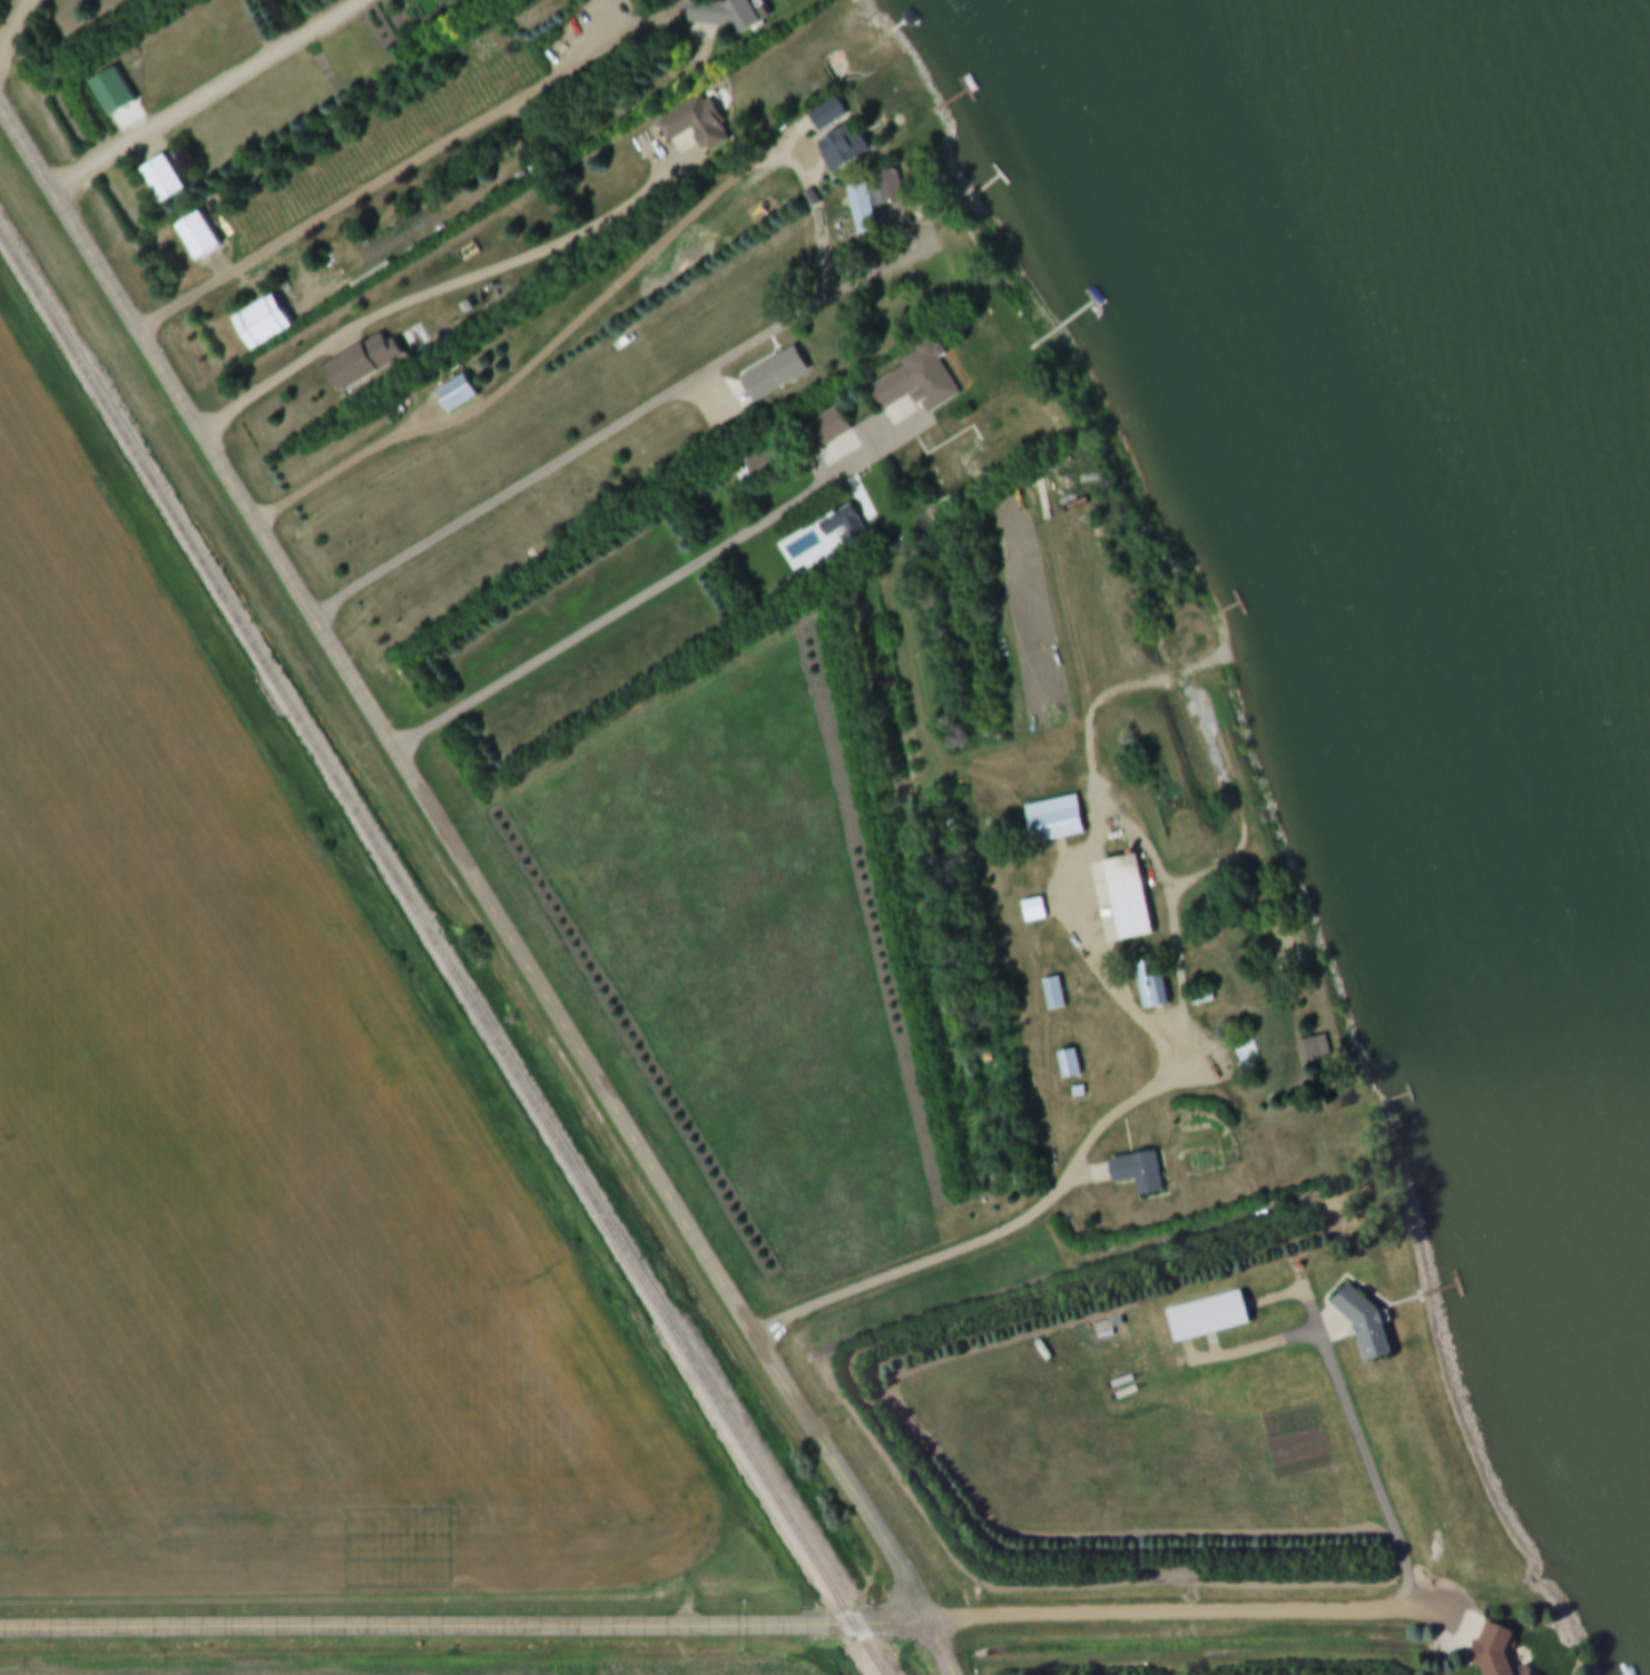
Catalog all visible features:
building: (649, 0)
building: (721, 17)
road: (13, 32)
road: (208, 95)
building: (693, 126)
building: (848, 144)
road: (391, 175)
building: (160, 183)
building: (860, 213)
building: (196, 239)
river: (1471, 259)
road: (440, 292)
building: (258, 326)
building: (357, 367)
building: (776, 375)
building: (921, 382)
building: (453, 397)
road: (632, 418)
building: (827, 431)
road: (656, 587)
building: (1060, 826)
road: (464, 863)
road: (1087, 896)
building: (1133, 897)
building: (1035, 910)
railway: (438, 960)
building: (1155, 986)
building: (1055, 994)
building: (1202, 996)
building: (1316, 1050)
building: (1250, 1058)
building: (1071, 1065)
building: (1141, 1173)
building: (1209, 1316)
building: (1366, 1322)
road: (1168, 1614)
road: (463, 1627)
road: (942, 1648)
building: (1496, 1653)

